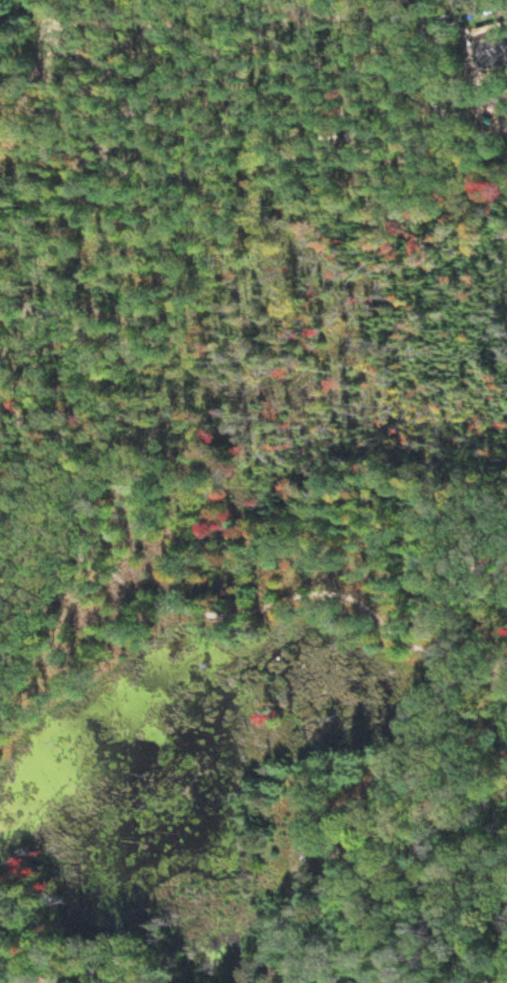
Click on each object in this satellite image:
building: (502, 52)

